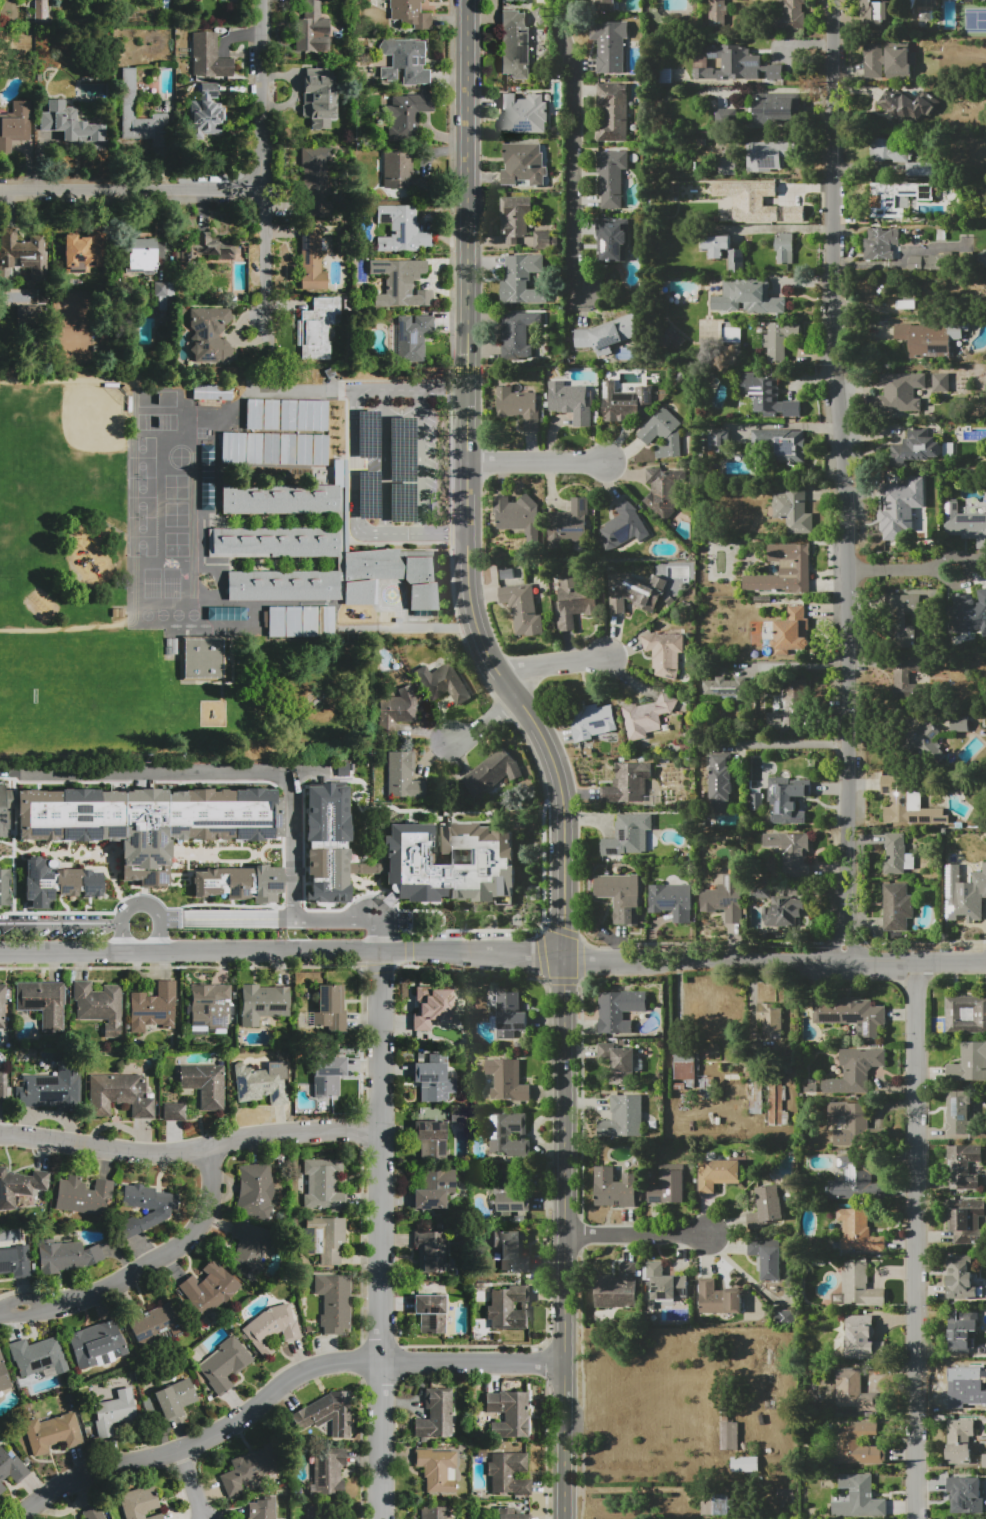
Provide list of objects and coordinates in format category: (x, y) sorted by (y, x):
building: (514, 0)
building: (604, 5)
building: (717, 12)
building: (410, 13)
building: (791, 15)
building: (540, 16)
building: (874, 16)
building: (311, 28)
building: (609, 44)
building: (515, 45)
building: (208, 58)
building: (408, 60)
building: (873, 61)
building: (899, 62)
building: (736, 64)
building: (128, 90)
building: (322, 92)
building: (908, 104)
building: (772, 108)
building: (612, 112)
building: (205, 113)
building: (523, 114)
building: (725, 114)
building: (407, 115)
building: (15, 124)
building: (71, 124)
road: (572, 149)
building: (888, 150)
building: (768, 155)
road: (258, 162)
building: (523, 165)
building: (727, 166)
building: (920, 169)
building: (400, 170)
building: (611, 175)
building: (314, 182)
road: (129, 184)
building: (773, 197)
building: (883, 204)
building: (515, 218)
building: (402, 230)
building: (941, 234)
building: (611, 239)
building: (544, 240)
building: (881, 243)
building: (716, 245)
building: (205, 248)
building: (785, 248)
building: (24, 253)
building: (84, 253)
building: (139, 255)
building: (982, 257)
building: (311, 259)
road: (902, 260)
building: (736, 261)
building: (929, 262)
building: (522, 279)
building: (400, 283)
building: (748, 299)
building: (905, 304)
building: (32, 310)
building: (317, 328)
building: (210, 333)
building: (731, 333)
building: (608, 334)
building: (517, 335)
building: (412, 337)
building: (672, 339)
building: (776, 339)
building: (928, 340)
road: (261, 346)
building: (941, 383)
road: (443, 389)
building: (901, 391)
building: (212, 392)
building: (766, 397)
building: (571, 401)
building: (621, 402)
building: (518, 407)
building: (253, 413)
building: (271, 414)
building: (287, 415)
building: (311, 415)
park: (94, 419)
road: (358, 429)
building: (663, 434)
building: (717, 440)
building: (233, 446)
building: (778, 446)
building: (254, 447)
building: (914, 447)
building: (270, 448)
building: (287, 448)
building: (303, 449)
building: (320, 450)
park: (142, 457)
road: (385, 460)
road: (422, 460)
road: (840, 461)
road: (536, 462)
parking lot: (397, 463)
building: (206, 475)
park: (26, 479)
building: (206, 488)
building: (664, 490)
park: (142, 498)
building: (279, 499)
building: (206, 502)
building: (902, 503)
building: (794, 508)
building: (519, 517)
building: (573, 521)
building: (965, 525)
building: (623, 526)
road: (411, 532)
park: (143, 537)
building: (273, 543)
building: (784, 570)
road: (912, 571)
building: (507, 573)
building: (392, 576)
building: (282, 585)
building: (634, 592)
building: (573, 601)
building: (522, 609)
building: (968, 613)
building: (226, 614)
building: (276, 615)
building: (319, 615)
building: (900, 620)
building: (307, 621)
building: (791, 631)
building: (168, 642)
building: (174, 646)
building: (664, 653)
building: (202, 657)
road: (553, 663)
road: (789, 665)
building: (909, 678)
building: (443, 682)
building: (725, 688)
park: (74, 693)
building: (794, 704)
building: (397, 711)
building: (647, 716)
building: (773, 717)
building: (591, 721)
building: (959, 723)
road: (484, 724)
building: (914, 730)
road: (785, 745)
road: (547, 750)
road: (4, 769)
building: (499, 769)
road: (225, 770)
building: (402, 777)
building: (720, 782)
building: (628, 783)
building: (786, 800)
building: (756, 801)
building: (907, 802)
building: (2, 813)
building: (149, 819)
building: (627, 837)
building: (326, 841)
building: (791, 851)
building: (896, 855)
building: (450, 863)
building: (56, 880)
building: (239, 882)
building: (4, 886)
building: (619, 890)
building: (762, 890)
building: (966, 895)
building: (726, 899)
building: (672, 900)
road: (139, 904)
building: (897, 907)
building: (785, 911)
road: (297, 919)
road: (60, 923)
road: (834, 941)
road: (853, 942)
road: (281, 951)
road: (774, 959)
building: (42, 1002)
building: (262, 1003)
building: (2, 1006)
building: (98, 1006)
building: (208, 1007)
building: (153, 1008)
building: (330, 1008)
building: (433, 1008)
building: (619, 1010)
building: (510, 1015)
building: (966, 1015)
building: (851, 1016)
building: (770, 1019)
building: (618, 1061)
building: (969, 1063)
building: (683, 1066)
building: (856, 1071)
building: (327, 1075)
building: (433, 1077)
building: (506, 1079)
building: (204, 1084)
building: (259, 1084)
building: (2, 1088)
building: (54, 1088)
building: (119, 1095)
building: (775, 1105)
building: (174, 1112)
building: (957, 1112)
building: (623, 1118)
building: (854, 1126)
building: (508, 1134)
building: (429, 1140)
road: (188, 1148)
building: (962, 1167)
building: (717, 1174)
building: (856, 1179)
building: (322, 1183)
building: (669, 1185)
building: (19, 1186)
building: (615, 1188)
building: (433, 1189)
building: (255, 1190)
building: (83, 1196)
building: (514, 1202)
building: (766, 1207)
building: (145, 1208)
building: (966, 1220)
road: (638, 1233)
building: (857, 1233)
road: (381, 1234)
building: (325, 1238)
road: (913, 1239)
building: (247, 1247)
building: (512, 1250)
building: (430, 1251)
building: (65, 1255)
building: (767, 1258)
building: (13, 1261)
road: (142, 1266)
building: (960, 1278)
building: (664, 1282)
building: (859, 1286)
building: (207, 1288)
building: (617, 1288)
building: (718, 1298)
building: (334, 1302)
building: (509, 1307)
building: (431, 1314)
building: (784, 1316)
building: (158, 1322)
building: (271, 1328)
building: (961, 1337)
building: (863, 1339)
building: (98, 1345)
building: (37, 1357)
building: (225, 1363)
building: (3, 1377)
building: (958, 1385)
road: (274, 1388)
building: (854, 1391)
building: (174, 1398)
building: (113, 1411)
building: (510, 1413)
building: (327, 1414)
building: (435, 1414)
building: (52, 1433)
building: (728, 1435)
building: (963, 1443)
building: (856, 1445)
building: (743, 1464)
building: (12, 1467)
building: (250, 1467)
building: (437, 1470)
building: (326, 1473)
building: (508, 1474)
road: (192, 1484)
road: (628, 1488)
building: (968, 1493)
building: (858, 1498)
building: (139, 1503)
building: (715, 1504)
building: (258, 1509)
building: (93, 1513)
building: (433, 1513)
building: (509, 1513)

